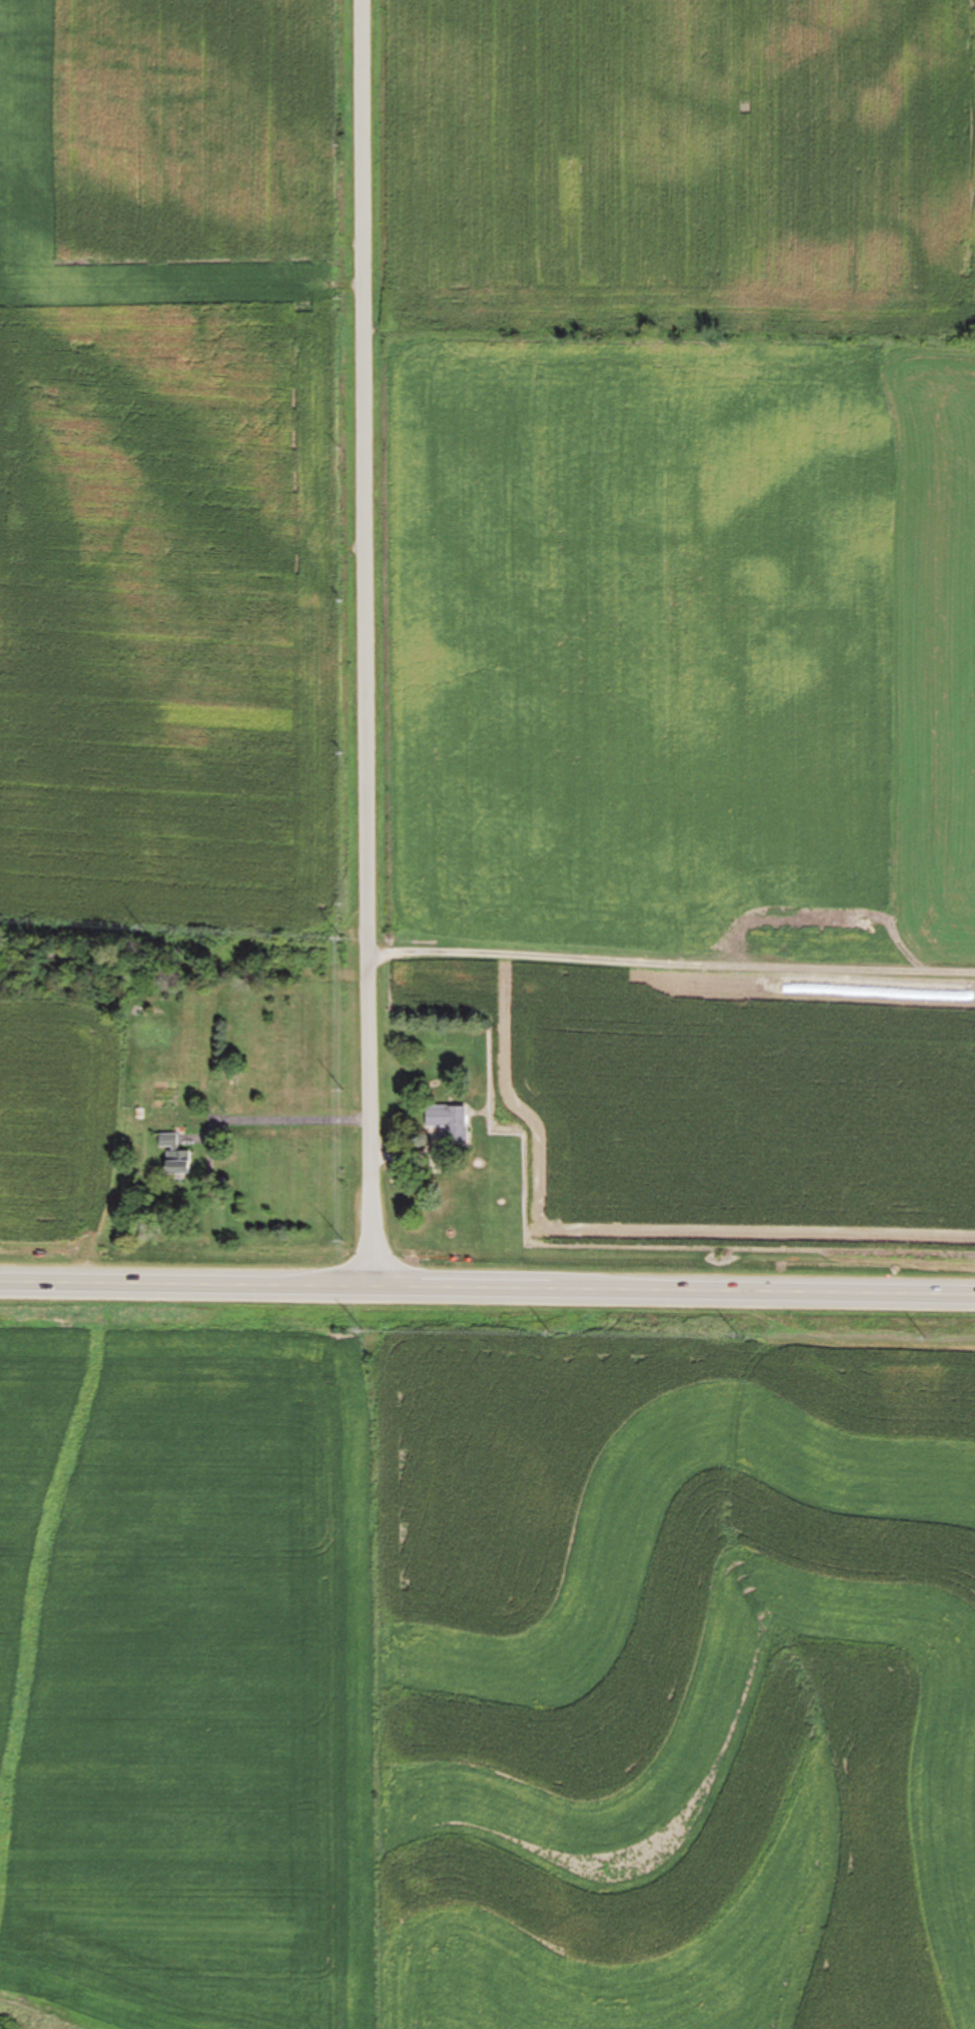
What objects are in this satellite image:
road: (358, 644)
building: (449, 1124)
building: (174, 1156)
road: (487, 1290)

